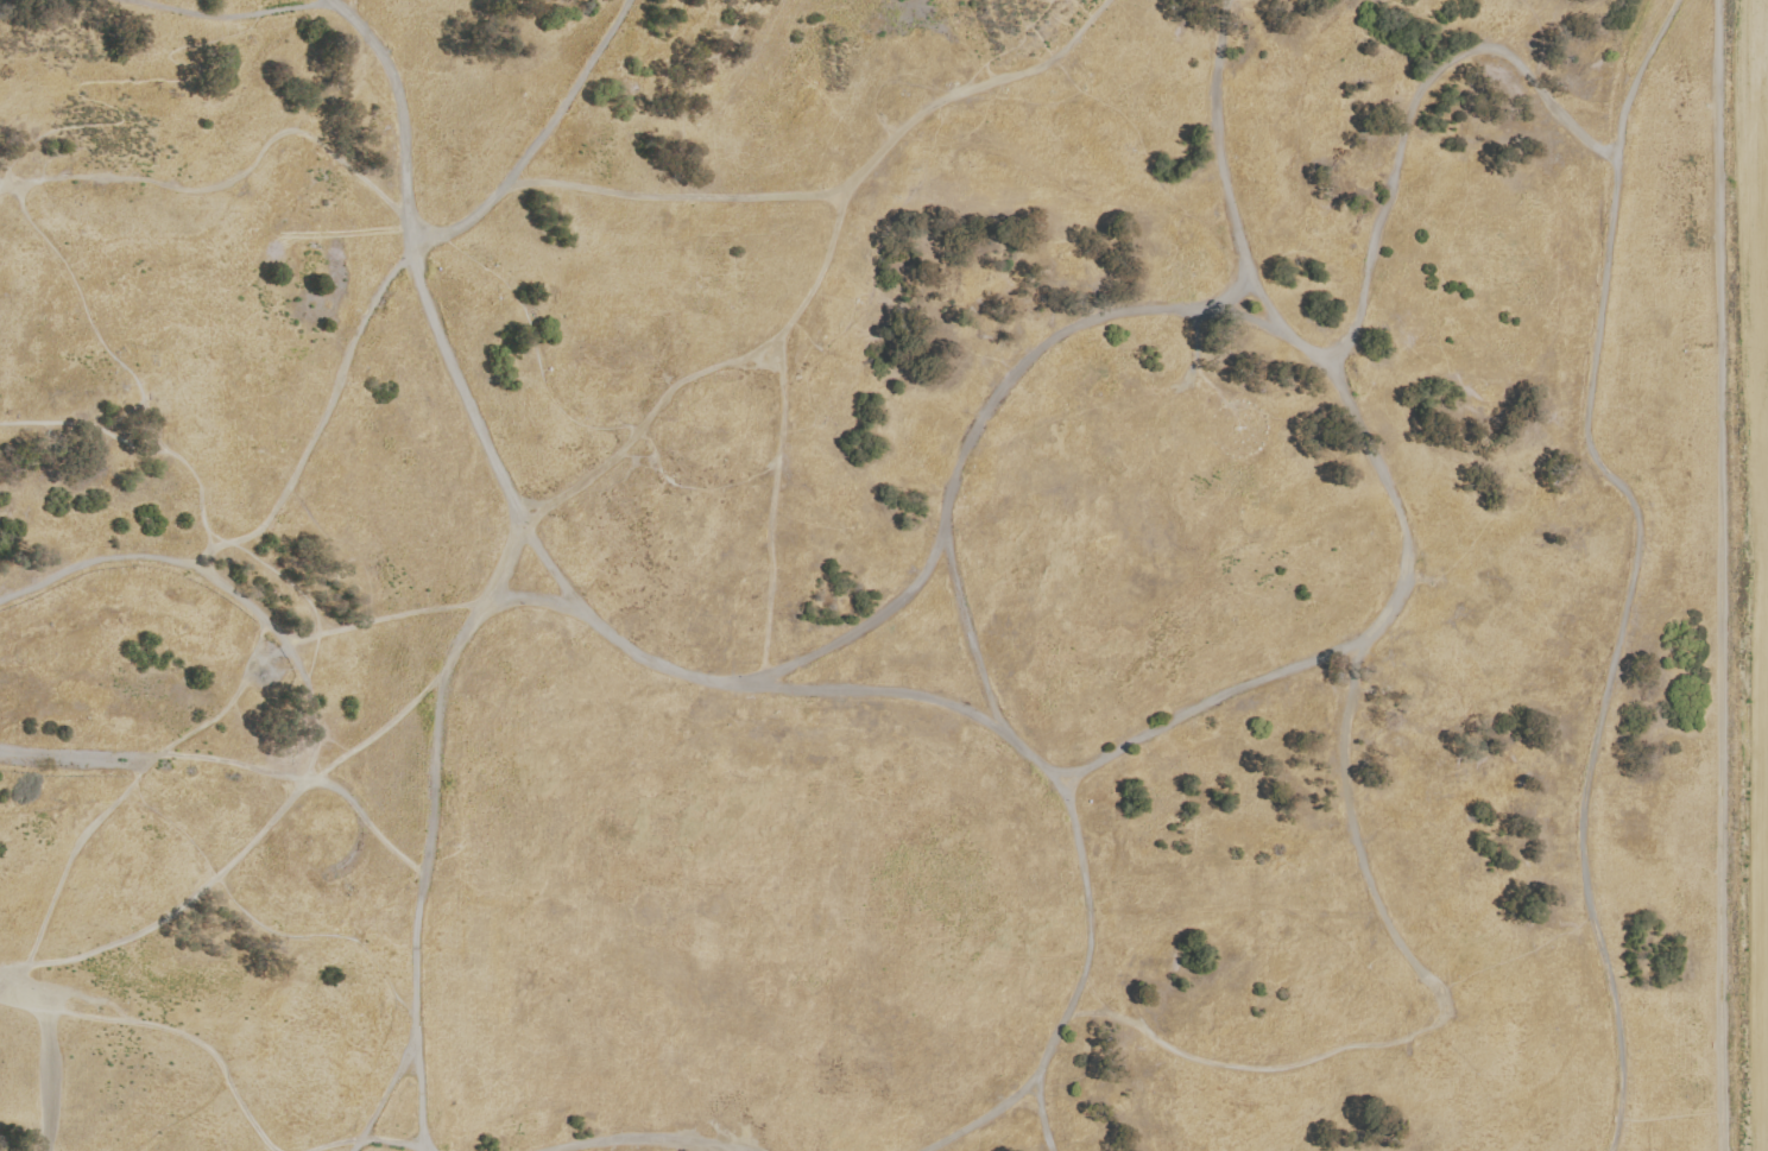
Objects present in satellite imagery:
road: (1044, 1)
road: (1019, 13)
road: (227, 18)
road: (1041, 39)
road: (1008, 49)
road: (108, 84)
road: (1073, 95)
road: (844, 191)
road: (1377, 216)
road: (1224, 297)
road: (1194, 359)
road: (348, 363)
road: (703, 372)
road: (547, 382)
road: (50, 422)
road: (149, 424)
road: (965, 448)
road: (184, 468)
road: (770, 506)
road: (516, 562)
road: (548, 568)
road: (202, 573)
park: (876, 575)
road: (1720, 575)
road: (867, 624)
road: (615, 643)
road: (315, 644)
road: (1615, 646)
road: (877, 691)
road: (228, 706)
road: (315, 715)
road: (1176, 719)
road: (75, 760)
road: (1059, 773)
road: (315, 778)
road: (1347, 814)
road: (70, 854)
road: (175, 912)
road: (260, 924)
road: (1514, 954)
road: (181, 1035)
road: (1271, 1069)
road: (50, 1081)
road: (387, 1093)
road: (246, 1117)
road: (990, 1118)
road: (644, 1139)
road: (389, 1141)
road: (339, 1144)
road: (715, 1149)

